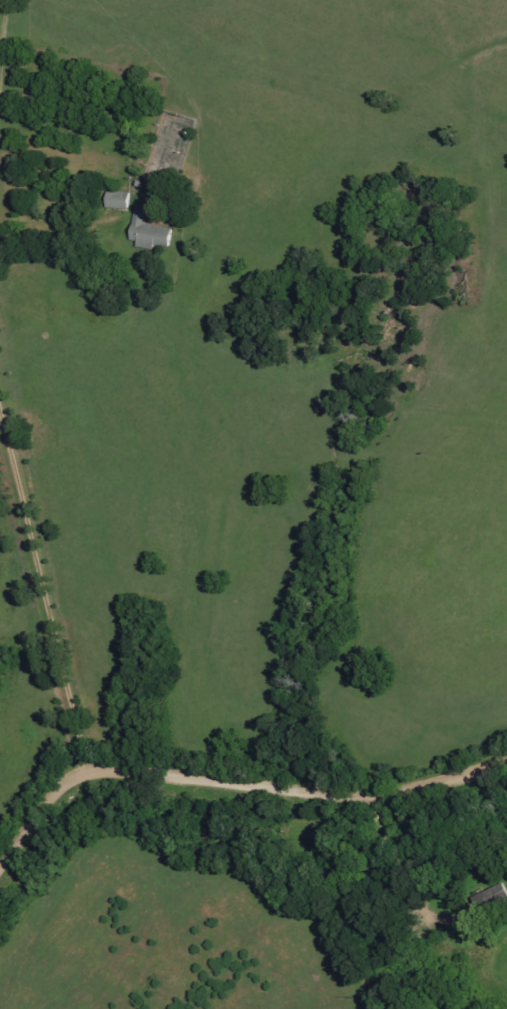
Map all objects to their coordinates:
road: (1, 117)
building: (120, 200)
building: (151, 232)
road: (41, 587)
road: (238, 785)

